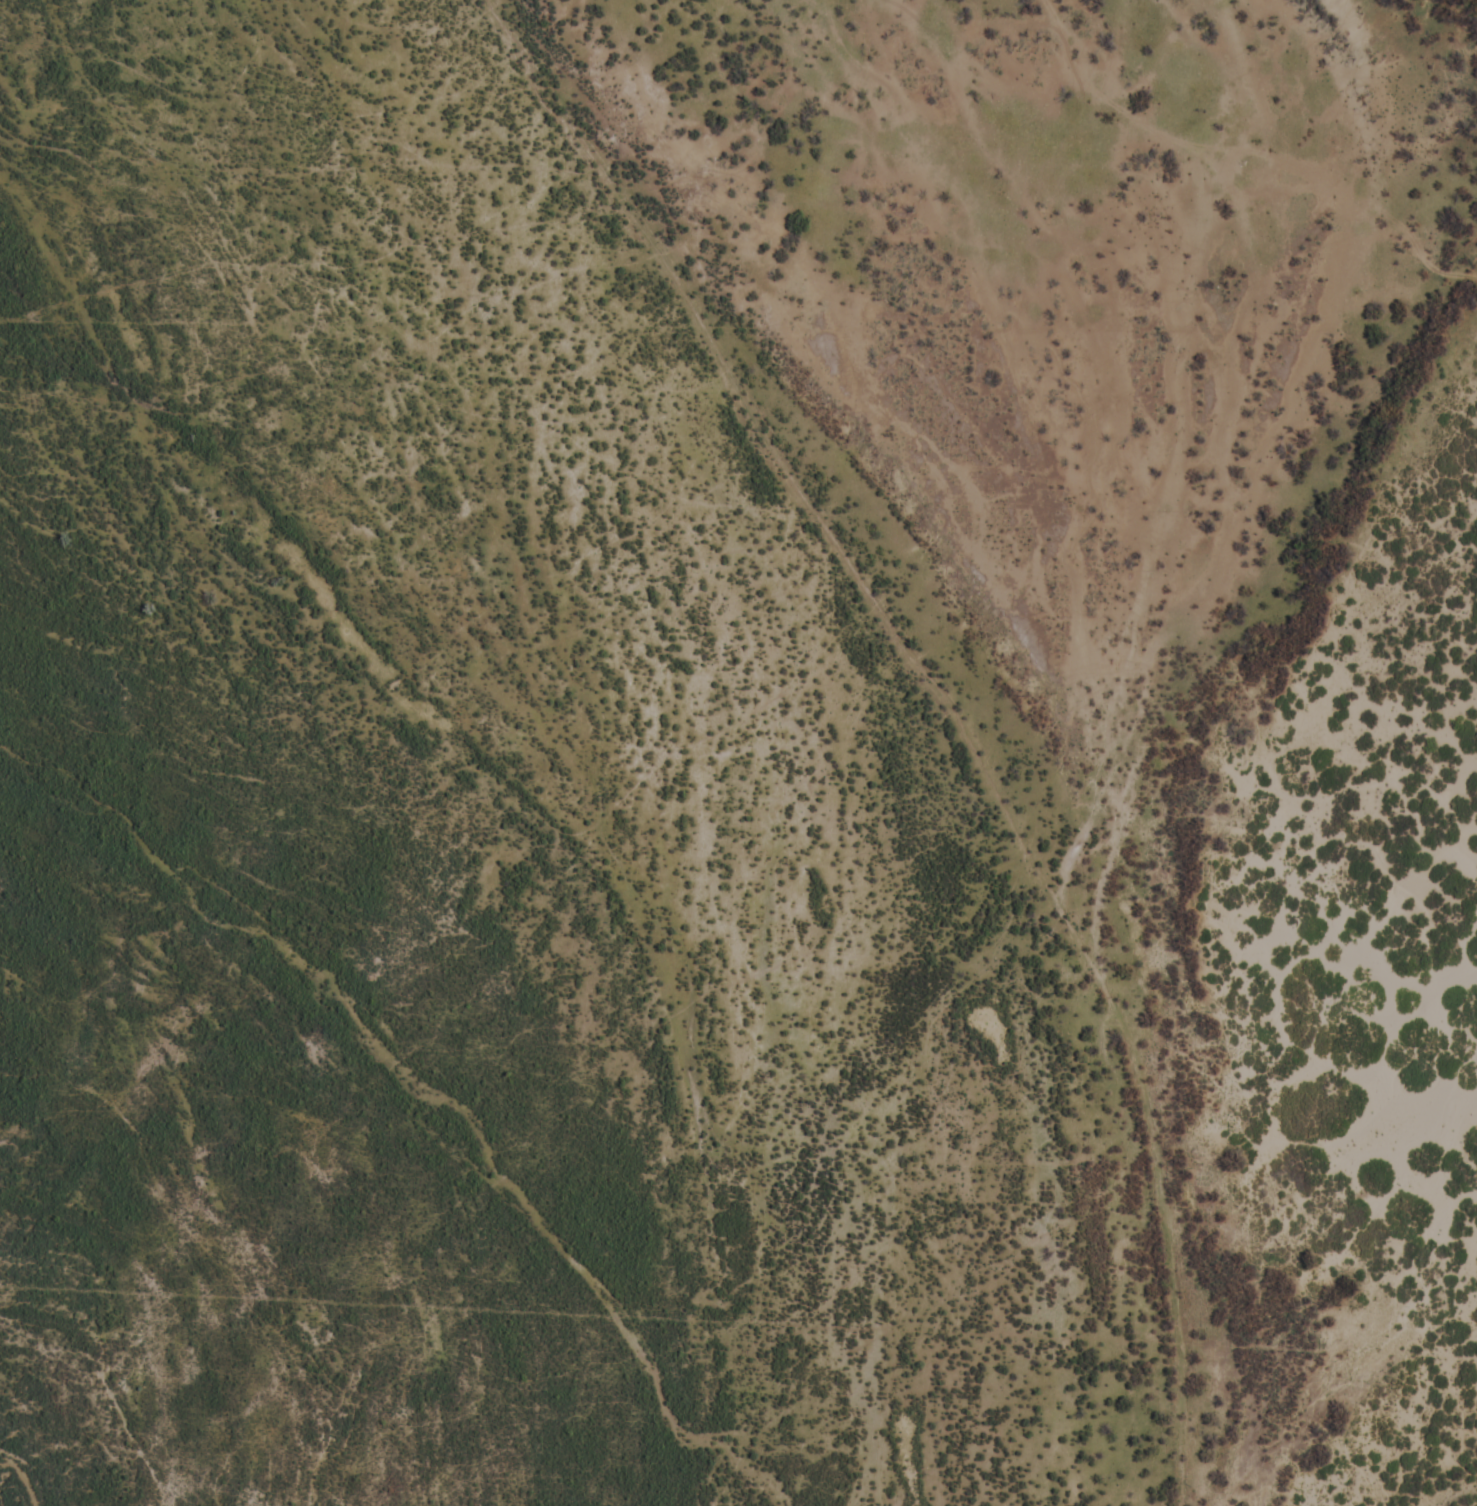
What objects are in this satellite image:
road: (1371, 681)

